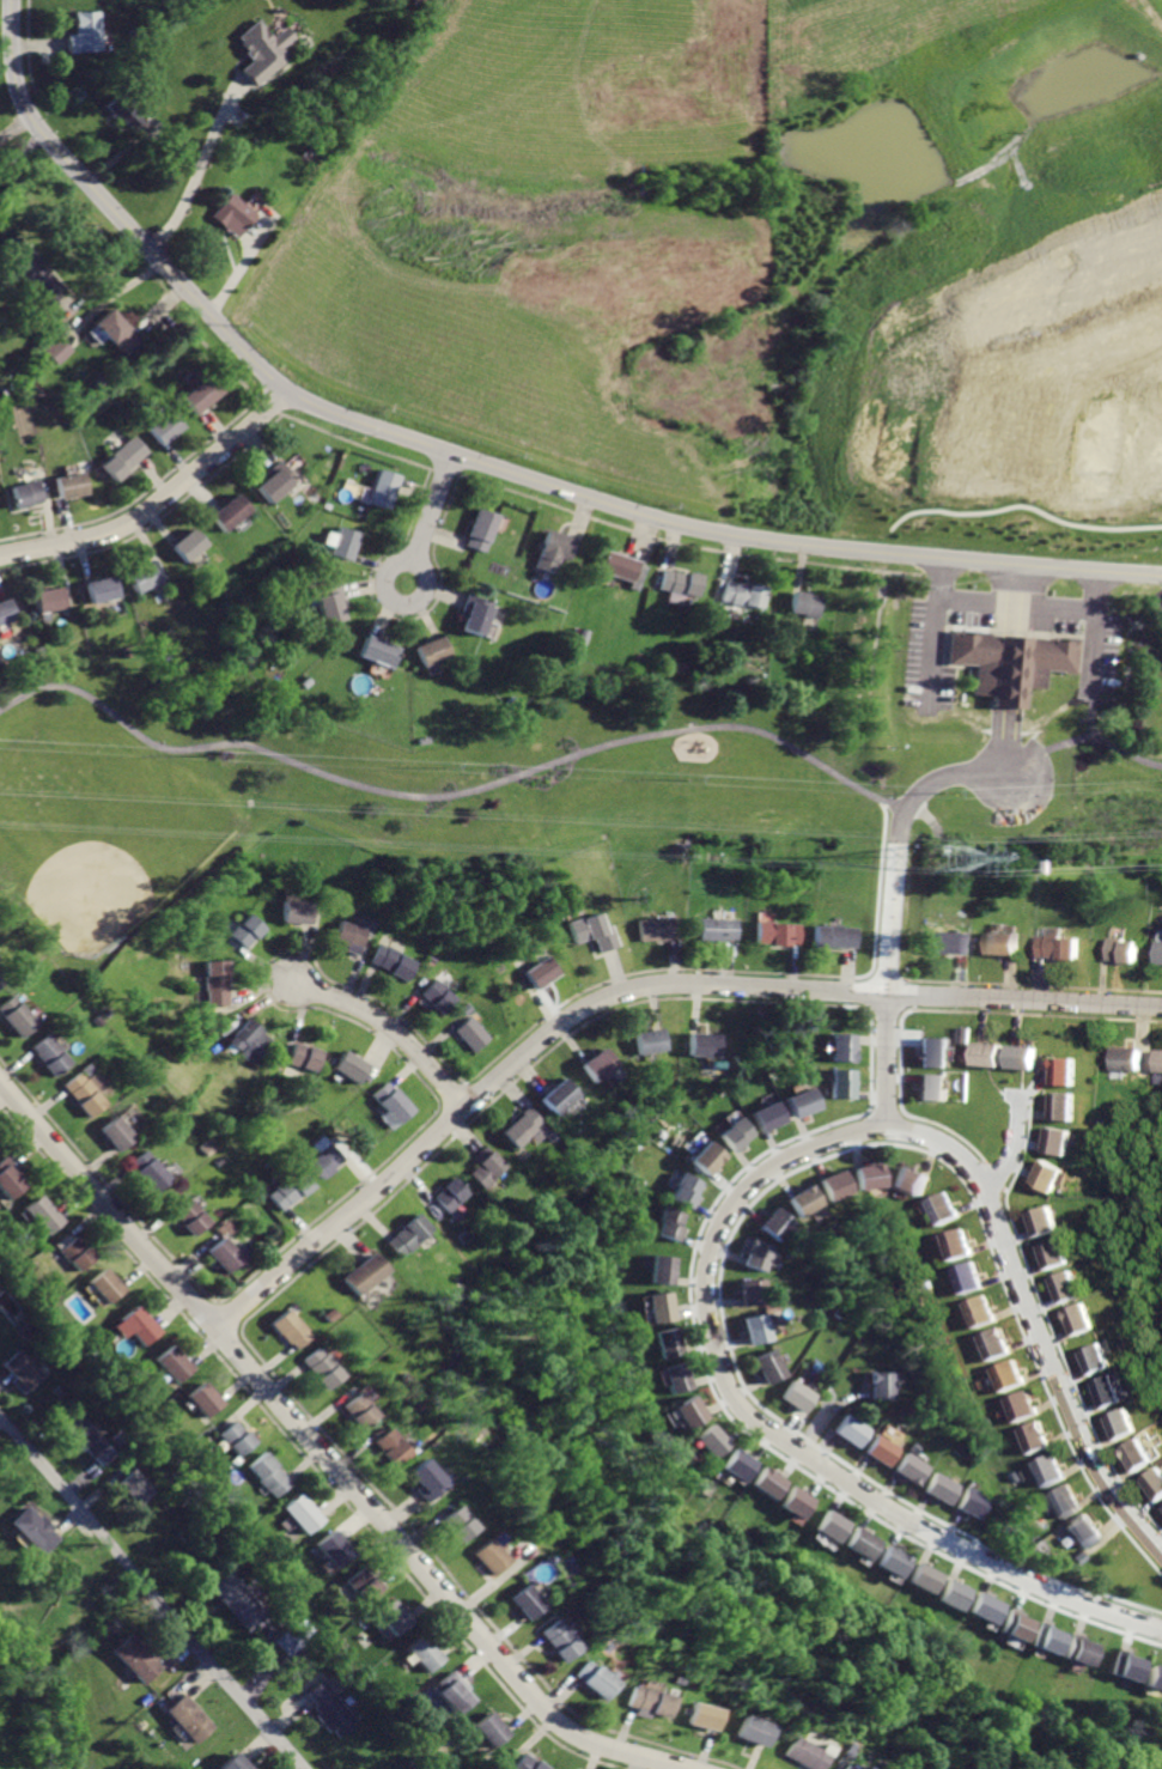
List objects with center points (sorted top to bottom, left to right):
building: (84, 32)
road: (39, 43)
building: (264, 53)
building: (130, 113)
road: (14, 128)
road: (23, 157)
road: (114, 158)
road: (197, 164)
road: (469, 211)
building: (231, 212)
road: (249, 254)
building: (29, 267)
road: (97, 284)
road: (109, 297)
road: (558, 310)
building: (118, 333)
building: (57, 351)
building: (202, 393)
building: (165, 427)
building: (1099, 445)
building: (126, 458)
road: (475, 461)
building: (275, 480)
building: (74, 485)
building: (382, 487)
building: (28, 492)
road: (158, 504)
road: (1024, 505)
building: (232, 511)
building: (481, 528)
building: (345, 542)
building: (193, 543)
building: (550, 549)
road: (404, 560)
building: (622, 569)
building: (146, 576)
road: (939, 577)
building: (679, 583)
building: (104, 589)
road: (1097, 589)
building: (744, 594)
road: (1017, 597)
building: (49, 598)
road: (1017, 601)
building: (331, 602)
building: (805, 603)
building: (5, 610)
building: (477, 612)
flagpole: (1014, 630)
building: (579, 636)
building: (962, 645)
road: (1094, 648)
building: (434, 649)
building: (379, 650)
road: (933, 654)
building: (1022, 663)
road: (1107, 741)
road: (1010, 742)
road: (1052, 752)
park: (486, 782)
road: (454, 797)
park: (95, 841)
power tower: (947, 855)
building: (298, 911)
road: (896, 912)
building: (659, 926)
building: (719, 926)
building: (245, 929)
building: (594, 930)
building: (781, 931)
building: (353, 935)
building: (838, 935)
building: (950, 941)
building: (1002, 941)
building: (1060, 946)
building: (1121, 949)
building: (1158, 952)
building: (396, 960)
building: (542, 971)
building: (1, 980)
building: (215, 980)
road: (627, 992)
building: (442, 995)
building: (17, 1015)
road: (393, 1027)
building: (475, 1033)
building: (961, 1034)
building: (248, 1039)
building: (652, 1040)
building: (711, 1042)
building: (844, 1045)
building: (933, 1050)
building: (987, 1052)
building: (51, 1053)
building: (302, 1054)
building: (1023, 1054)
building: (1128, 1057)
building: (1160, 1058)
building: (601, 1063)
building: (351, 1065)
building: (1067, 1070)
building: (844, 1081)
building: (932, 1084)
building: (86, 1090)
building: (561, 1094)
building: (391, 1101)
building: (805, 1101)
building: (1065, 1105)
building: (772, 1114)
building: (524, 1125)
building: (117, 1131)
building: (740, 1131)
building: (1060, 1141)
road: (1014, 1149)
building: (710, 1157)
building: (321, 1160)
building: (485, 1169)
building: (151, 1172)
building: (871, 1175)
building: (1048, 1175)
building: (10, 1178)
building: (908, 1179)
building: (836, 1184)
building: (288, 1187)
building: (688, 1189)
building: (448, 1193)
building: (805, 1198)
road: (736, 1200)
building: (942, 1208)
building: (45, 1214)
building: (190, 1216)
building: (1042, 1221)
building: (671, 1222)
building: (778, 1223)
building: (224, 1226)
building: (400, 1234)
building: (956, 1244)
building: (77, 1250)
building: (1054, 1253)
building: (223, 1254)
building: (759, 1254)
building: (663, 1269)
building: (357, 1272)
building: (967, 1277)
building: (107, 1283)
building: (1064, 1287)
building: (753, 1290)
building: (662, 1306)
building: (978, 1311)
building: (1077, 1320)
building: (140, 1324)
building: (287, 1327)
building: (758, 1327)
building: (669, 1343)
building: (991, 1343)
building: (1095, 1358)
building: (175, 1363)
building: (769, 1364)
building: (320, 1367)
building: (28, 1369)
building: (1004, 1374)
building: (676, 1378)
building: (884, 1384)
building: (1108, 1392)
building: (798, 1396)
building: (207, 1399)
building: (1018, 1406)
building: (357, 1409)
building: (692, 1411)
road: (834, 1415)
building: (1124, 1423)
building: (853, 1429)
building: (86, 1431)
building: (237, 1436)
building: (1030, 1436)
building: (712, 1441)
building: (388, 1446)
building: (886, 1449)
road: (322, 1453)
building: (107, 1454)
building: (1140, 1454)
building: (738, 1464)
building: (914, 1466)
building: (1045, 1469)
building: (269, 1472)
building: (422, 1478)
building: (1155, 1481)
building: (769, 1482)
building: (138, 1485)
building: (944, 1487)
building: (797, 1501)
building: (977, 1501)
building: (1063, 1501)
building: (304, 1512)
building: (455, 1522)
building: (833, 1525)
building: (37, 1530)
building: (1085, 1530)
building: (863, 1543)
building: (334, 1548)
building: (486, 1555)
building: (1081, 1556)
building: (895, 1561)
building: (925, 1575)
building: (364, 1580)
road: (152, 1591)
building: (956, 1593)
building: (239, 1600)
building: (521, 1601)
building: (990, 1606)
building: (394, 1616)
building: (1018, 1624)
building: (1050, 1637)
building: (556, 1640)
building: (287, 1641)
building: (1082, 1649)
building: (426, 1652)
building: (140, 1658)
building: (1127, 1664)
building: (1155, 1677)
building: (592, 1678)
building: (454, 1692)
building: (645, 1700)
building: (331, 1708)
building: (699, 1715)
building: (190, 1716)
building: (747, 1728)
building: (492, 1730)
building: (798, 1753)
building: (238, 1762)
building: (525, 1763)
building: (840, 1767)

